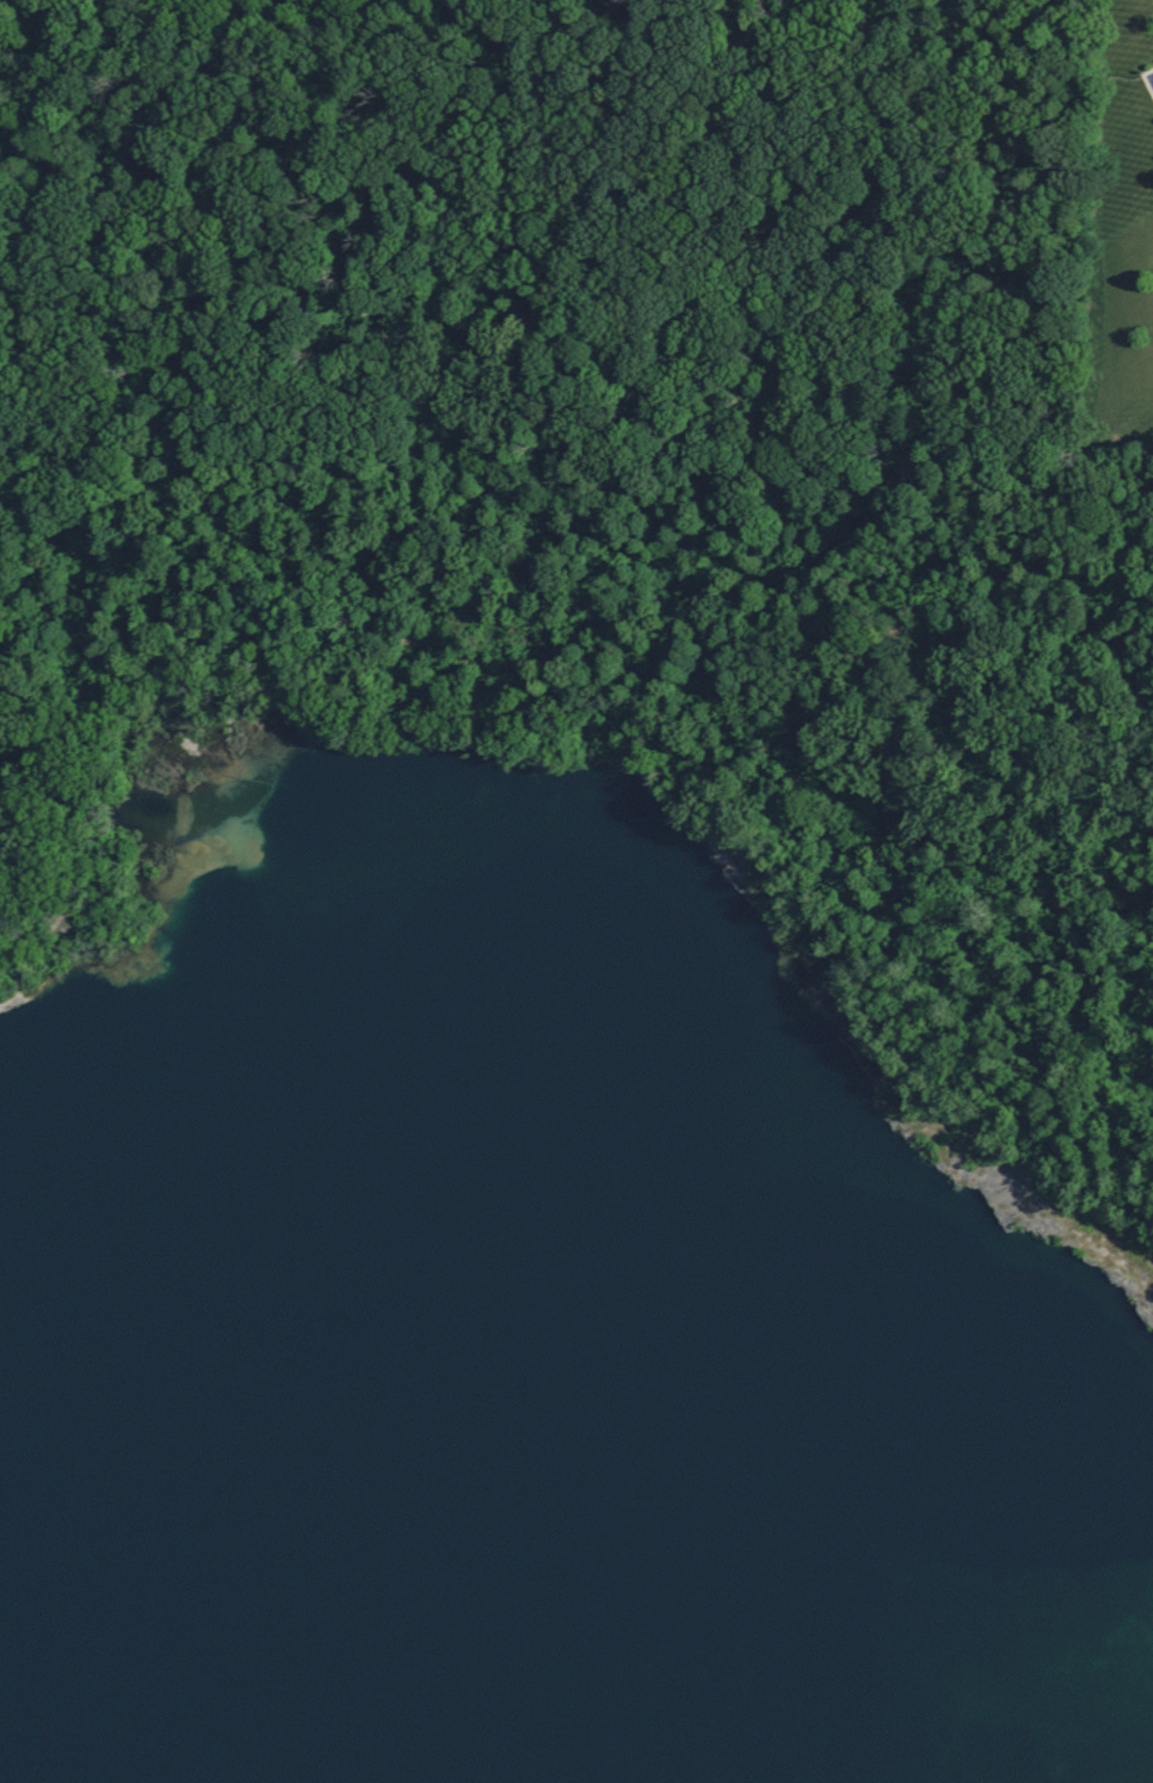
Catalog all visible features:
building: (605, 0)
building: (630, 4)

